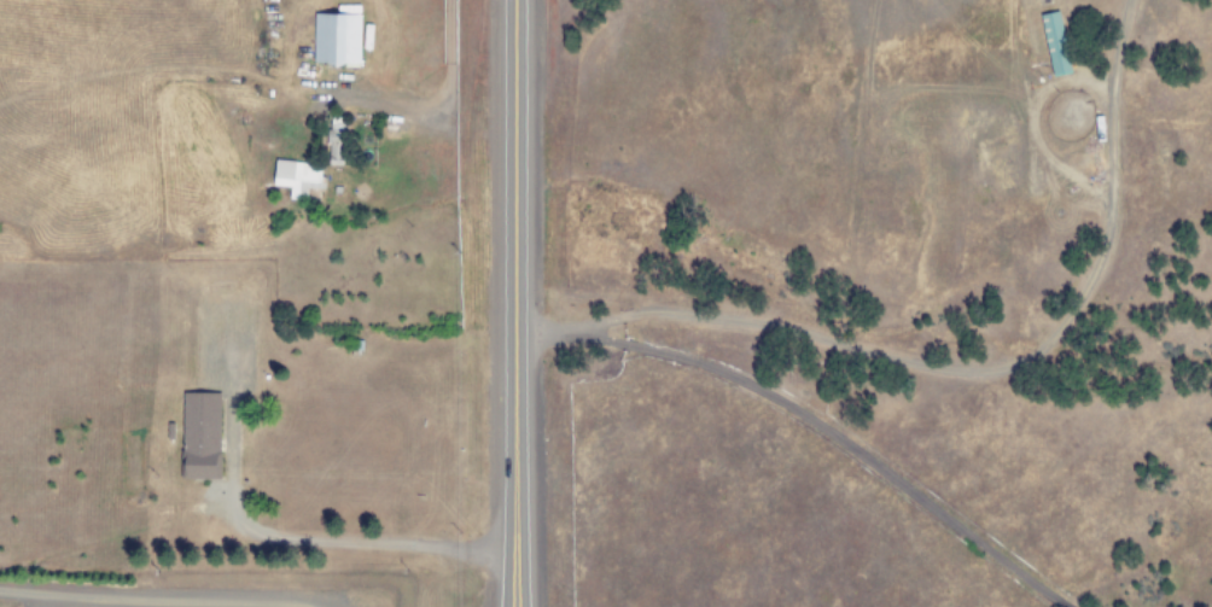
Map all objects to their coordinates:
building: (337, 35)
building: (1054, 43)
building: (334, 139)
building: (296, 177)
road: (524, 303)
road: (963, 372)
building: (199, 434)
road: (833, 437)
road: (276, 536)
road: (151, 599)
parking lot: (202, 599)
road: (101, 601)

